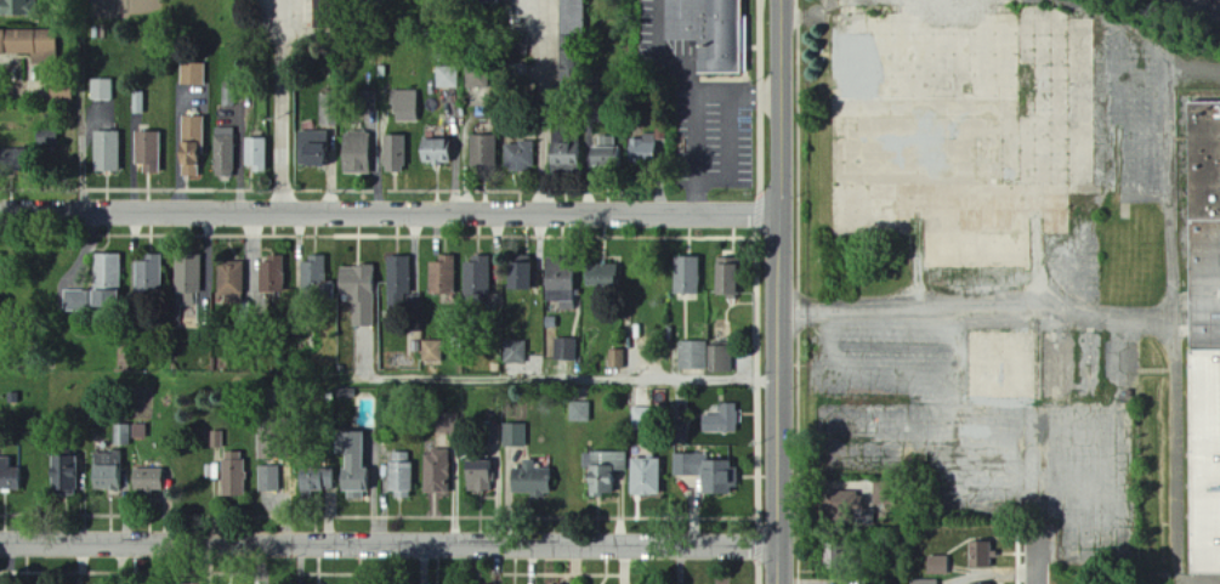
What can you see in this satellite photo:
building: (481, 1)
railway: (1215, 1)
building: (17, 7)
building: (324, 13)
building: (573, 16)
building: (711, 32)
building: (476, 34)
building: (30, 45)
building: (520, 45)
building: (447, 53)
building: (573, 58)
road: (1203, 69)
building: (193, 74)
building: (381, 74)
building: (447, 78)
building: (594, 79)
building: (103, 90)
building: (63, 92)
building: (592, 93)
building: (228, 96)
building: (567, 96)
building: (368, 101)
building: (140, 102)
road: (279, 103)
building: (405, 104)
road: (535, 104)
building: (329, 109)
building: (50, 137)
building: (567, 144)
building: (193, 147)
building: (313, 149)
building: (643, 149)
building: (148, 152)
building: (225, 152)
building: (484, 152)
building: (107, 153)
building: (608, 153)
building: (358, 154)
building: (395, 154)
building: (438, 154)
building: (257, 157)
building: (520, 158)
building: (15, 164)
road: (388, 206)
building: (562, 272)
building: (605, 272)
building: (104, 273)
building: (317, 273)
building: (444, 273)
building: (478, 273)
building: (523, 273)
building: (688, 273)
building: (186, 276)
building: (271, 276)
building: (146, 277)
building: (731, 278)
building: (228, 280)
building: (398, 280)
building: (359, 291)
road: (759, 291)
road: (778, 291)
building: (87, 301)
building: (414, 302)
building: (551, 321)
building: (307, 339)
building: (458, 341)
building: (415, 345)
building: (1202, 345)
building: (567, 347)
building: (432, 351)
building: (516, 351)
building: (694, 353)
building: (619, 356)
building: (721, 357)
building: (495, 365)
road: (568, 378)
building: (347, 390)
building: (238, 395)
building: (330, 395)
building: (268, 396)
road: (1175, 404)
building: (579, 413)
building: (651, 414)
building: (721, 421)
building: (681, 431)
building: (123, 435)
building: (515, 435)
building: (217, 438)
building: (273, 438)
building: (399, 458)
building: (354, 459)
building: (710, 470)
building: (435, 474)
building: (10, 475)
building: (62, 477)
building: (232, 477)
building: (477, 477)
building: (101, 478)
building: (603, 478)
building: (645, 478)
building: (146, 480)
building: (271, 480)
building: (529, 480)
building: (328, 481)
building: (398, 481)
building: (299, 486)
building: (842, 508)
road: (388, 544)
road: (1042, 554)
building: (978, 556)
building: (937, 566)
building: (193, 582)
building: (924, 582)

